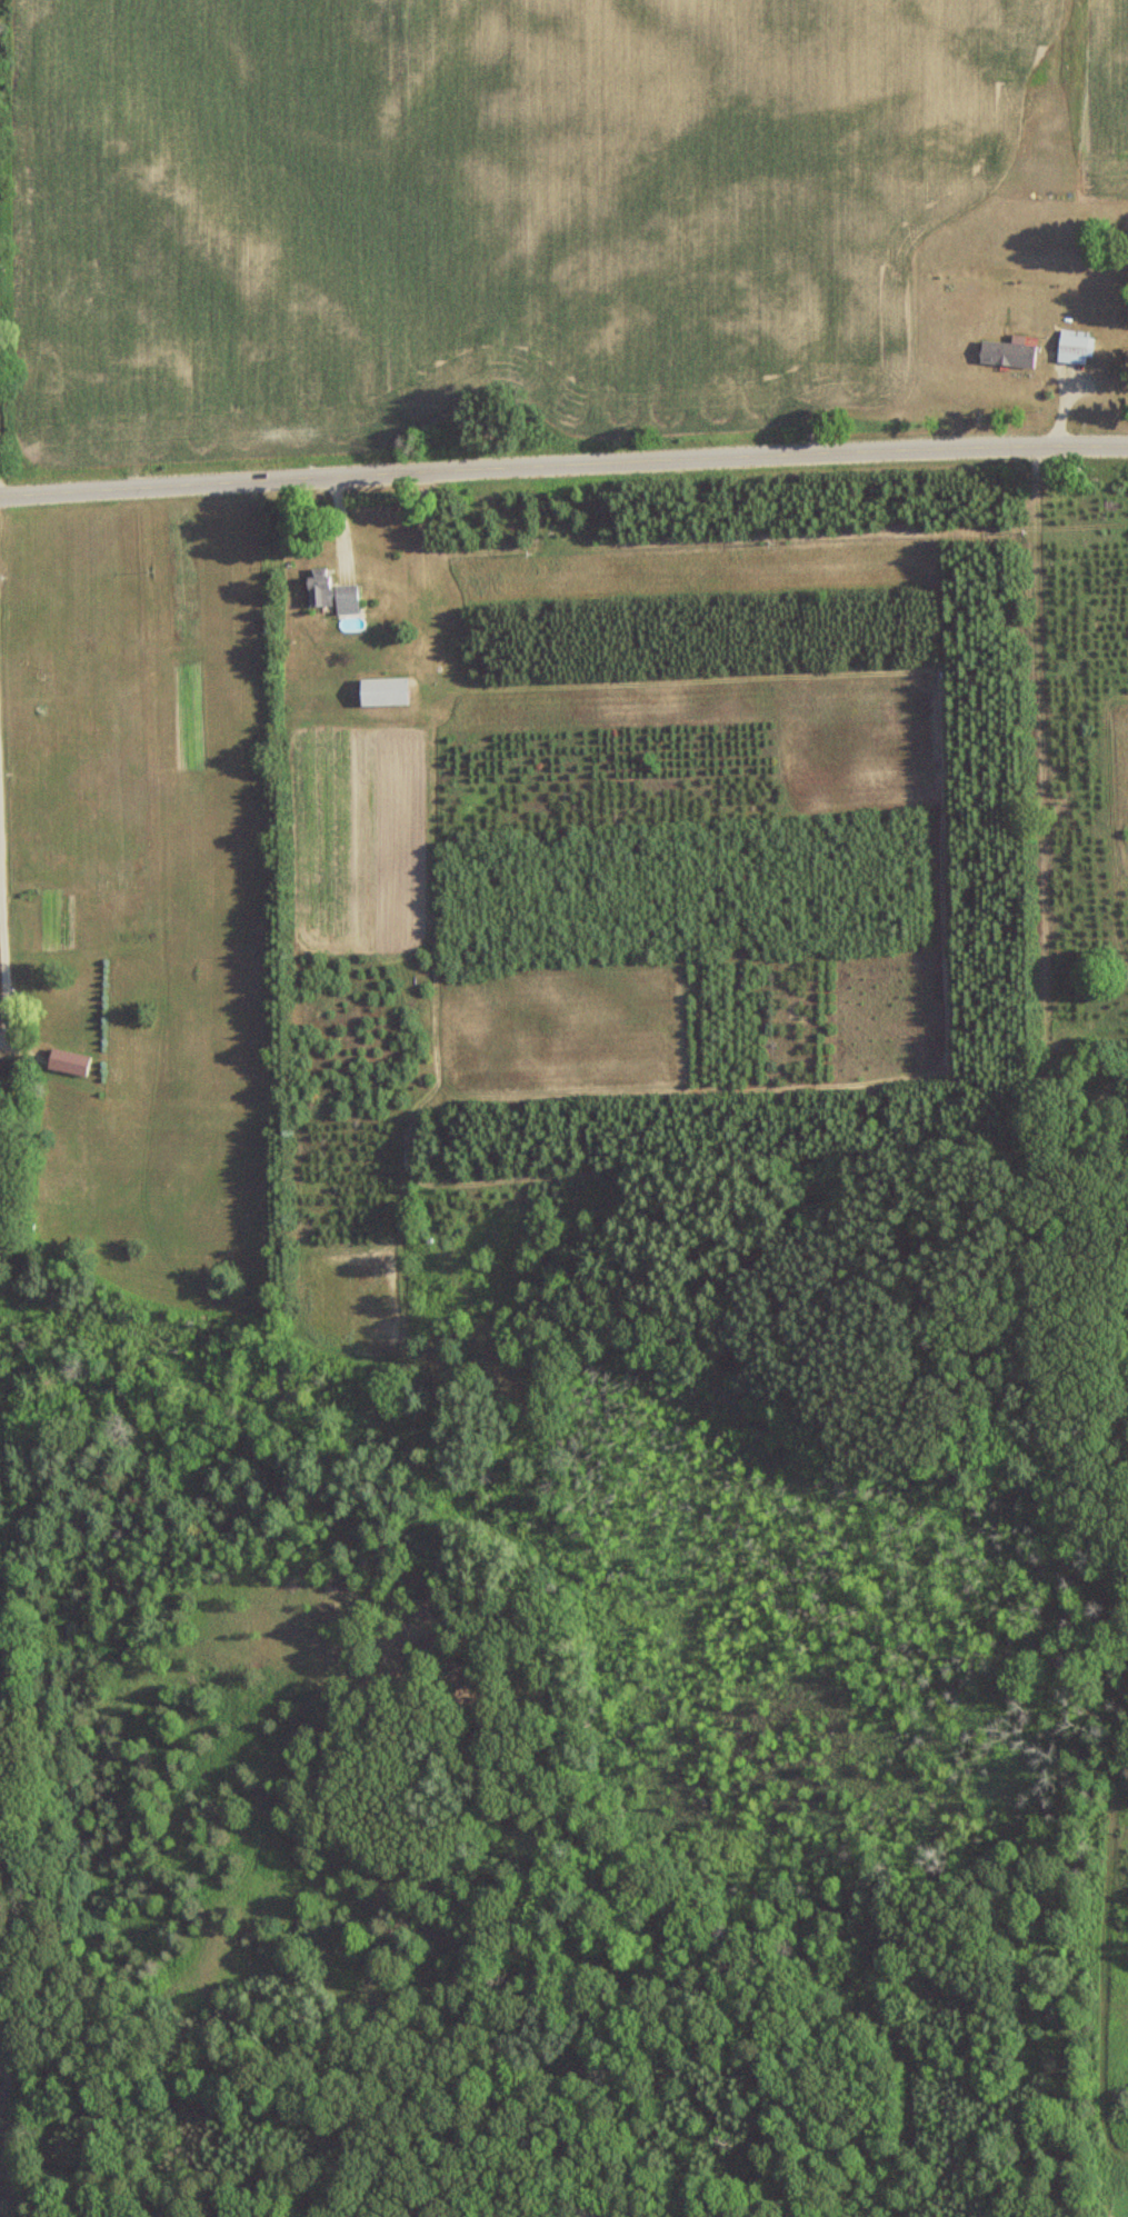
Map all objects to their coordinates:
building: (1070, 347)
building: (1005, 353)
road: (563, 462)
building: (329, 596)
building: (380, 693)
road: (1, 990)
building: (63, 1061)

